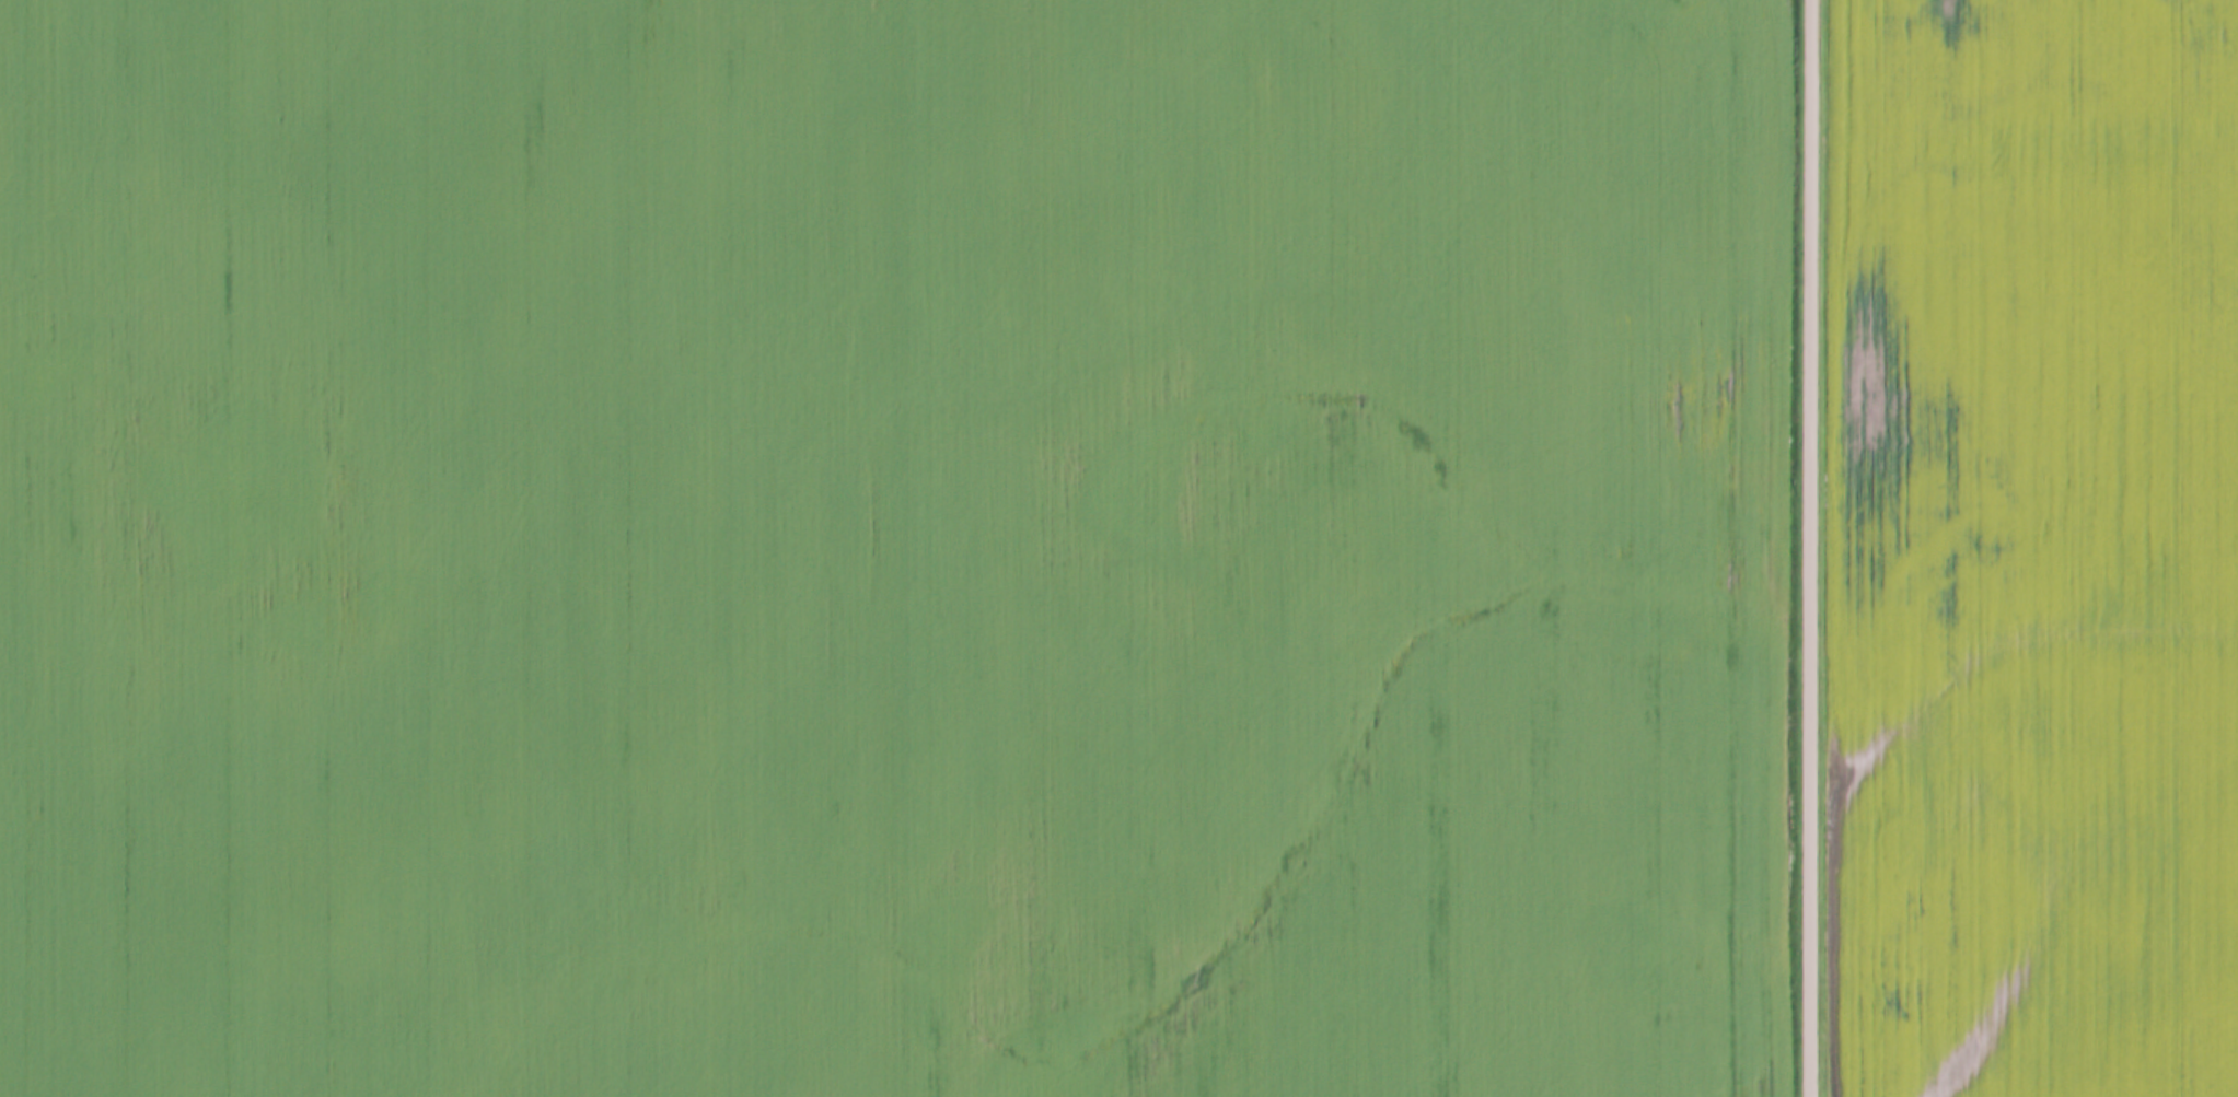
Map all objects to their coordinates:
road: (1812, 548)

